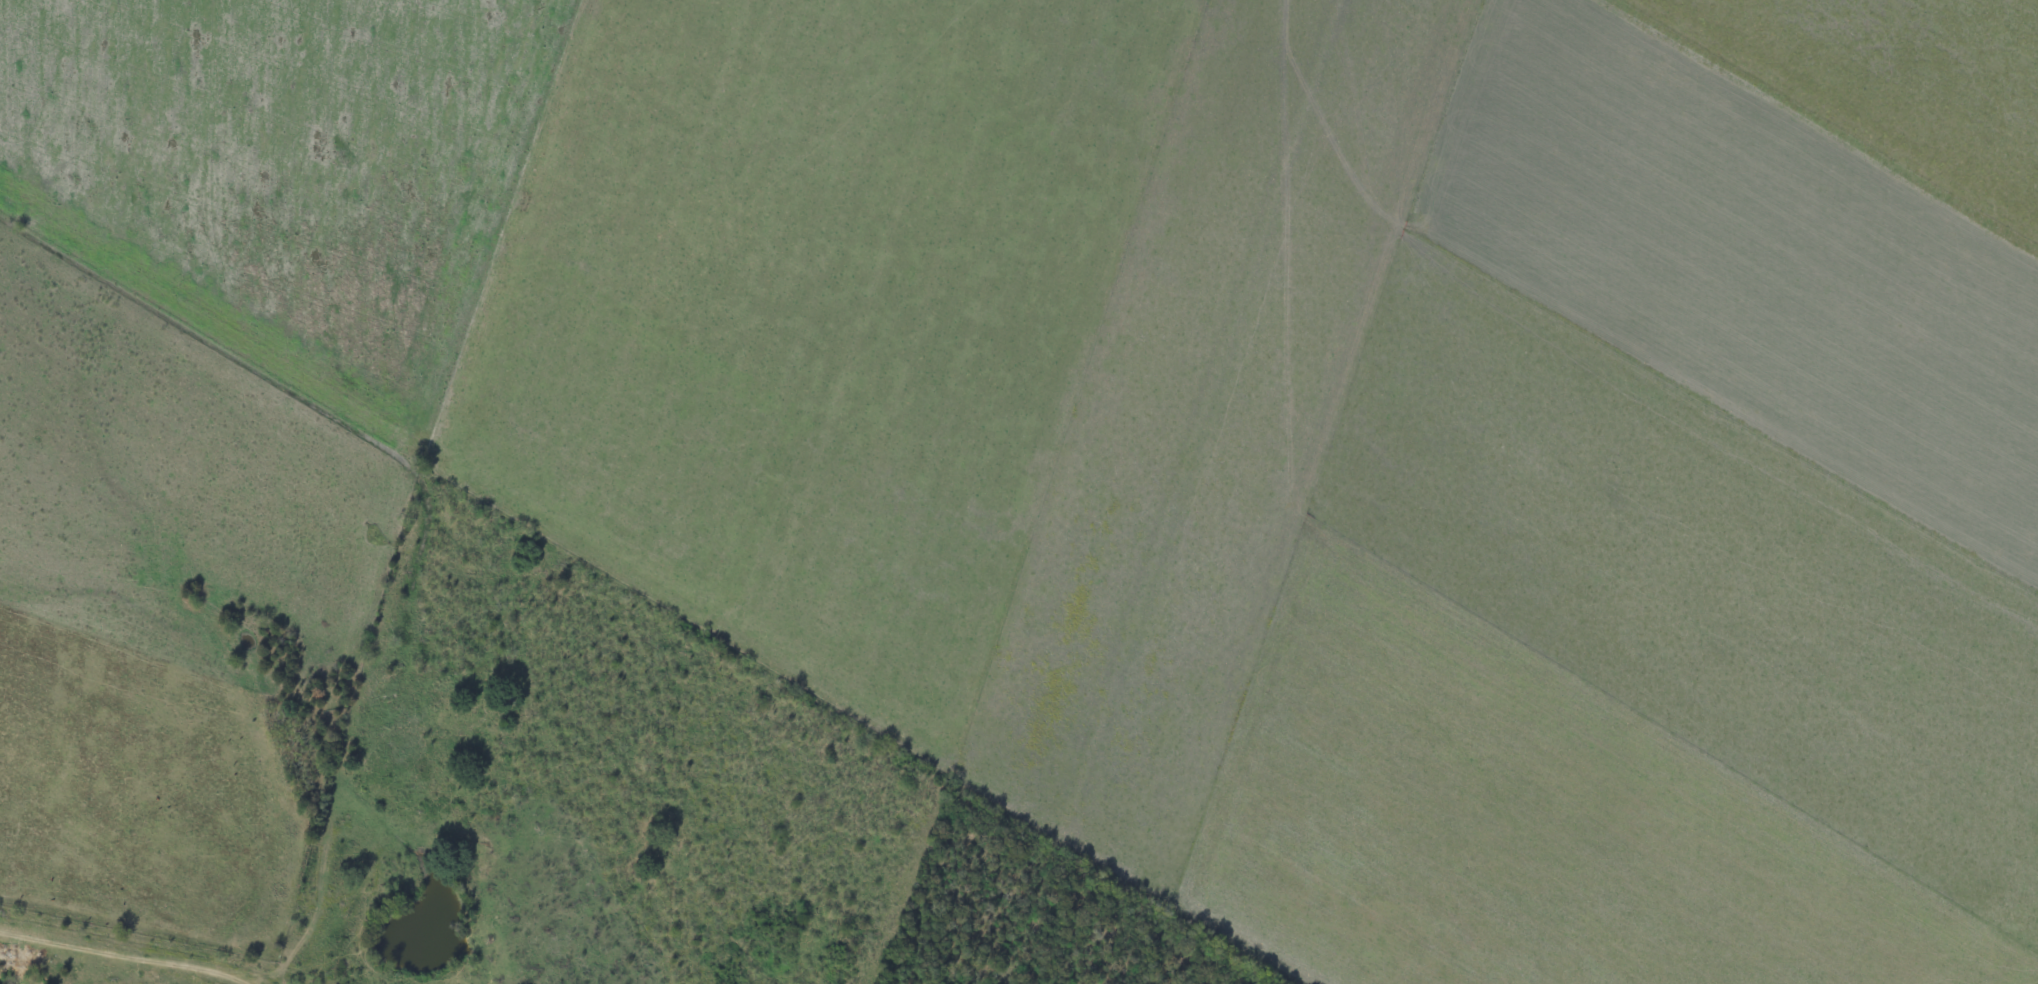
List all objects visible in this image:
road: (27, 595)

